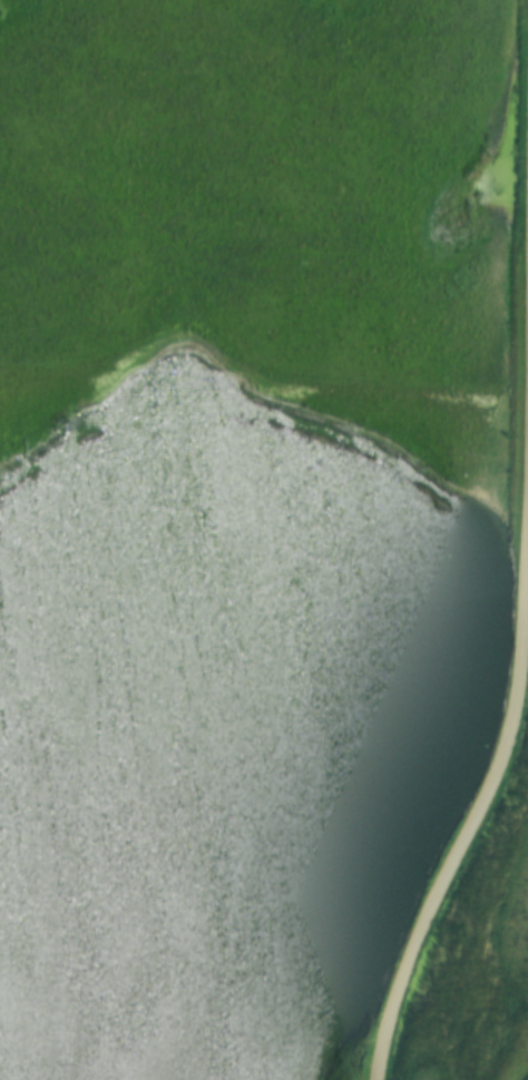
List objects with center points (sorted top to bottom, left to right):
road: (459, 861)

